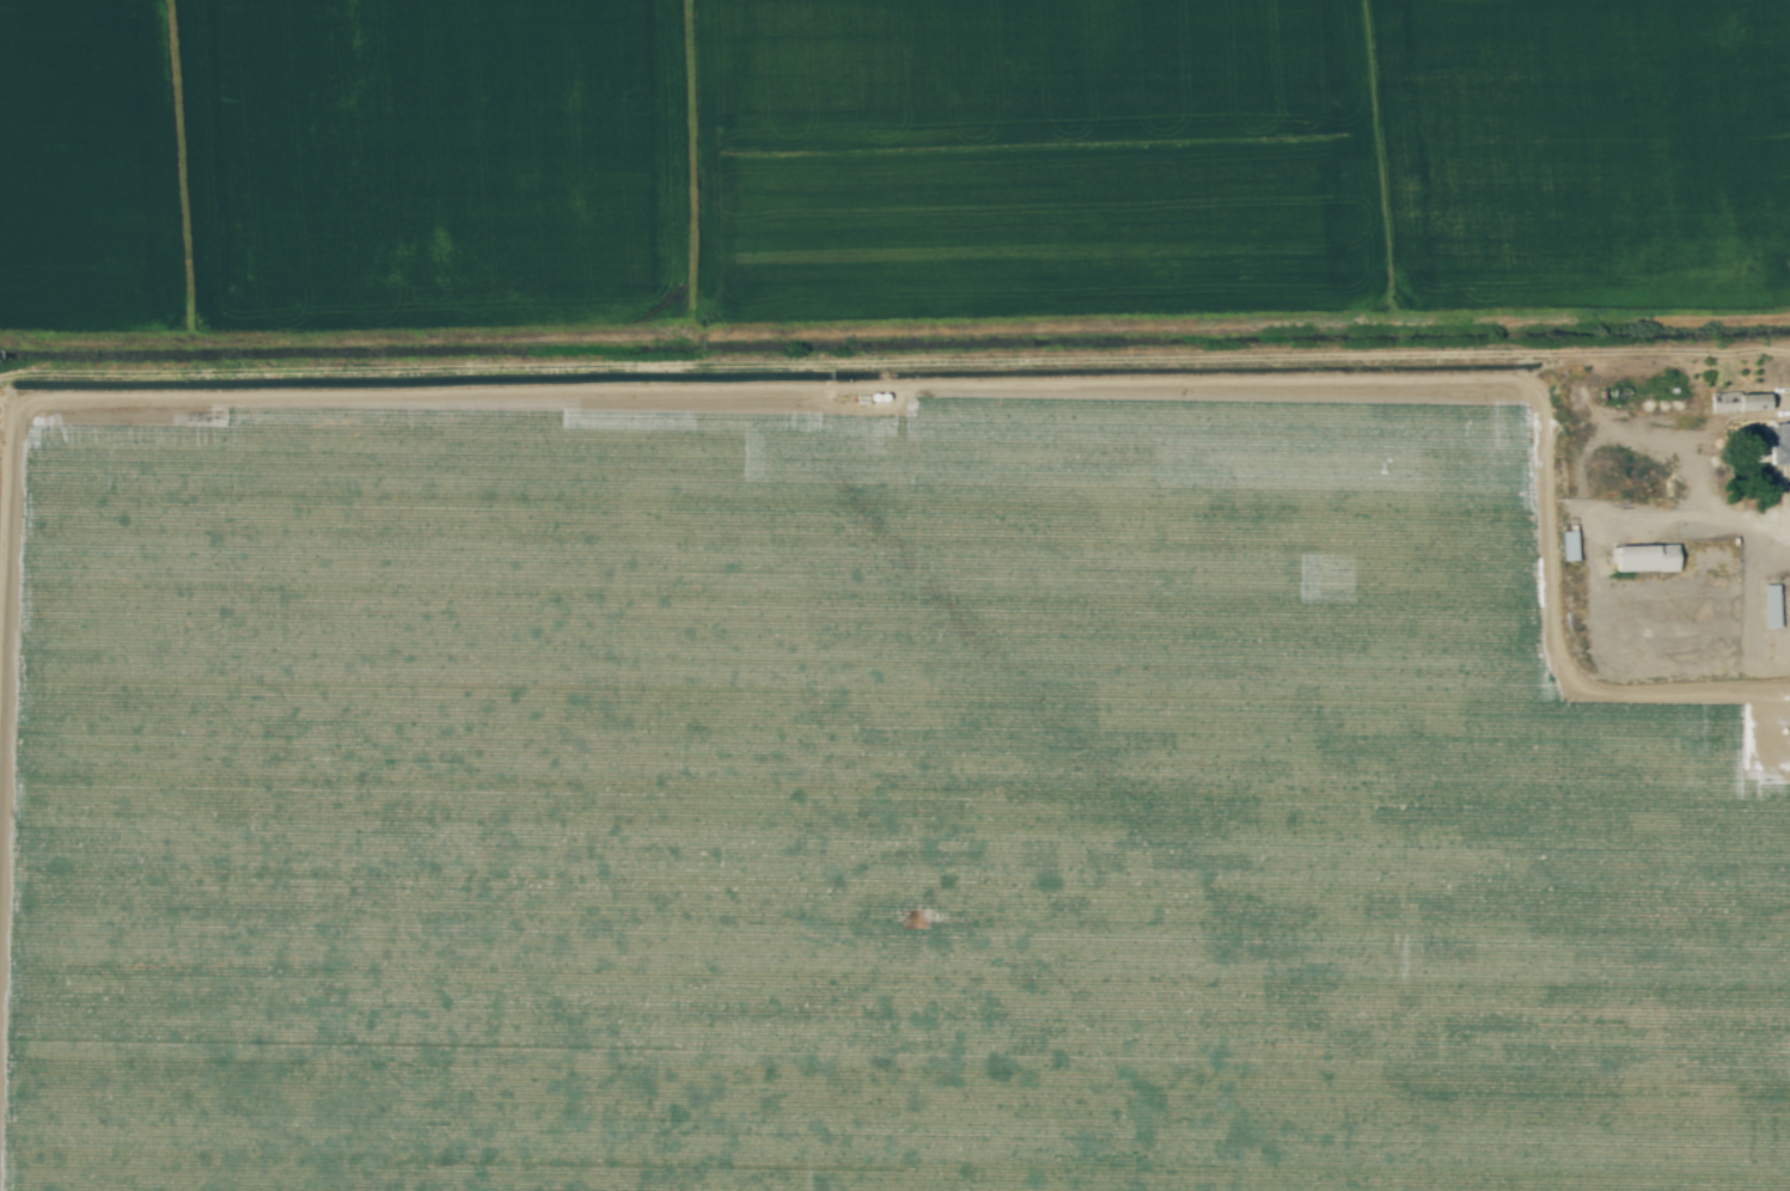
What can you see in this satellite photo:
building: (1782, 446)
building: (1571, 545)
building: (1651, 558)
building: (1773, 605)

